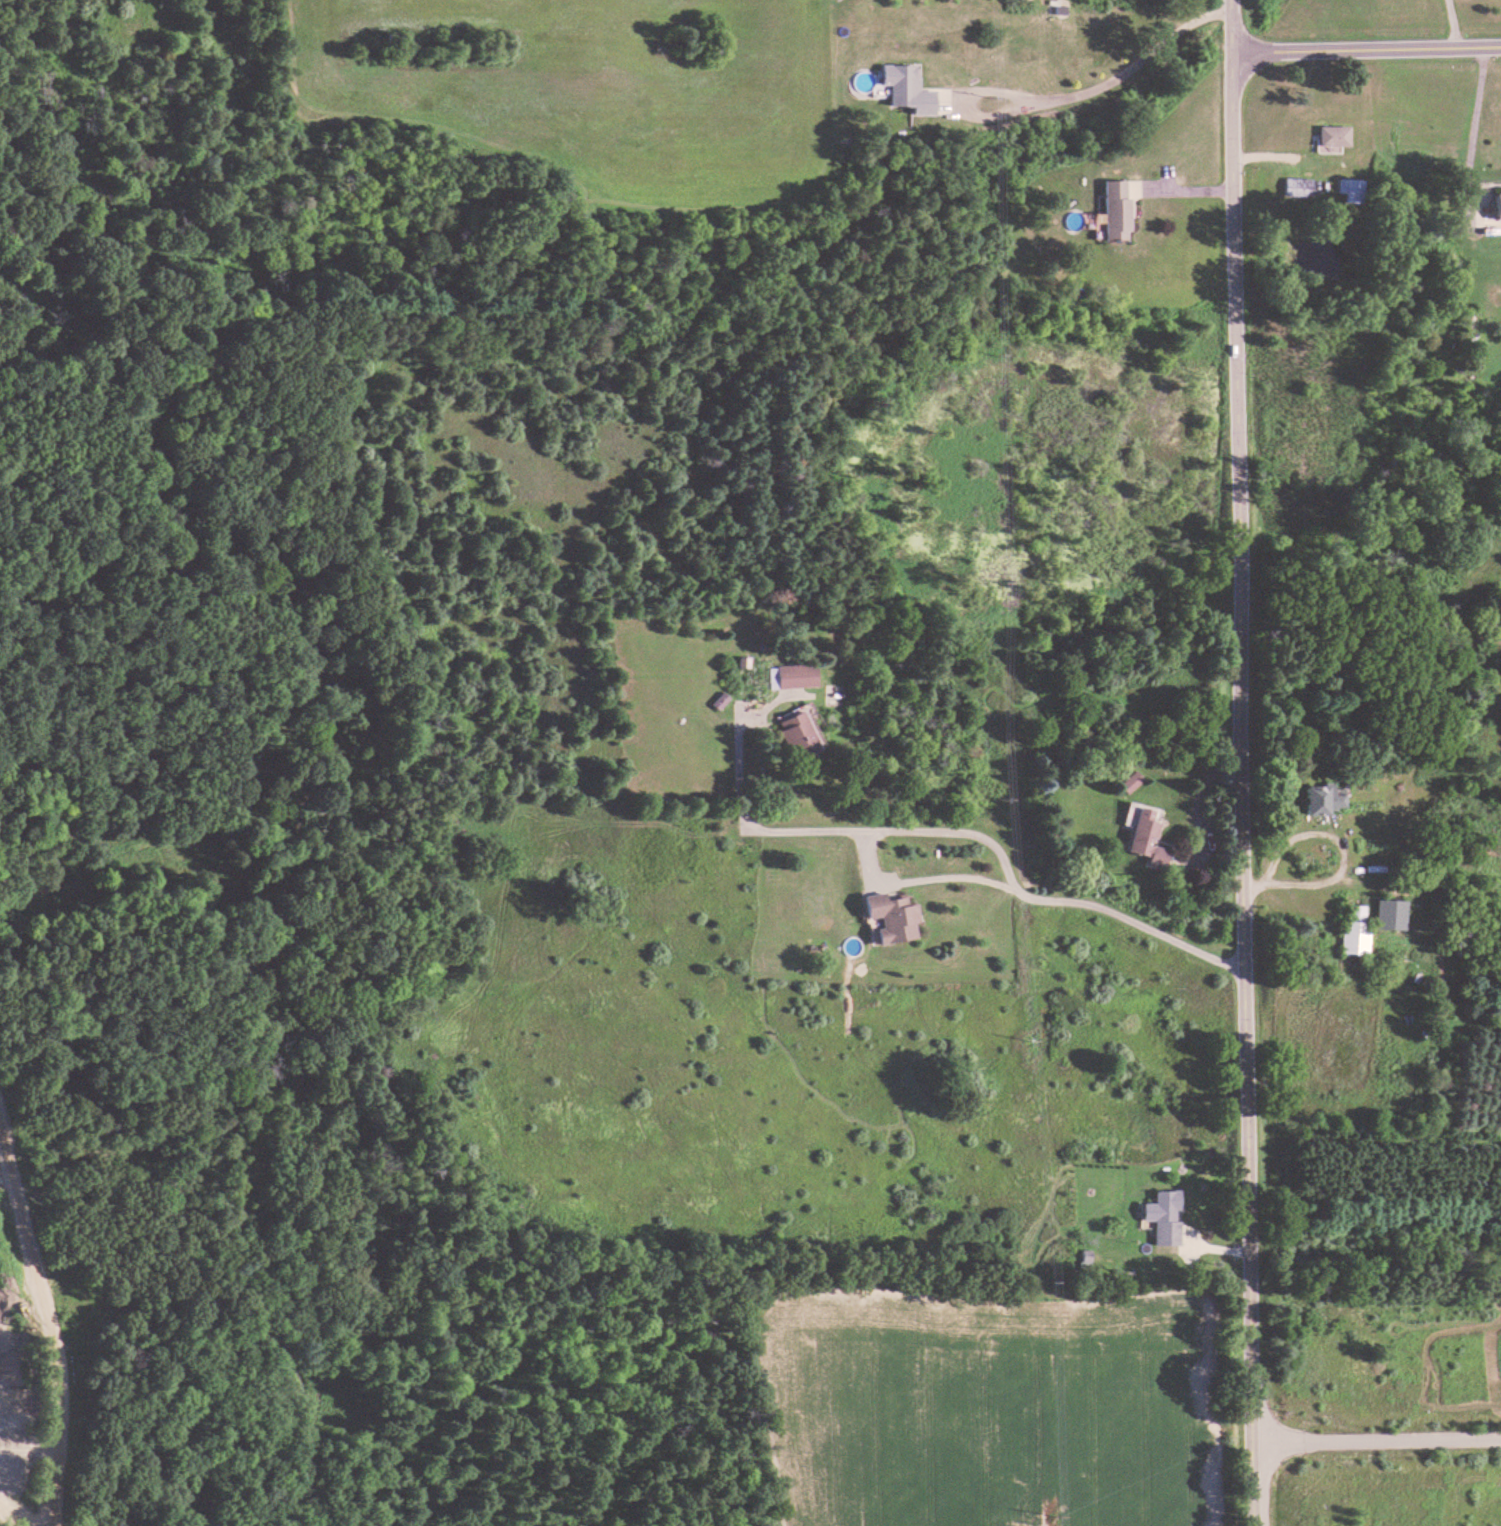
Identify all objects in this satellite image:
road: (1363, 47)
road: (1120, 74)
building: (906, 89)
road: (1471, 132)
building: (1332, 136)
building: (1296, 187)
building: (1350, 190)
building: (1497, 205)
building: (1115, 210)
building: (791, 677)
building: (798, 737)
road: (1236, 763)
building: (1130, 783)
building: (1324, 800)
road: (1195, 807)
road: (960, 831)
road: (1330, 837)
building: (1147, 838)
road: (918, 879)
building: (891, 919)
building: (1354, 931)
building: (1166, 1219)
road: (1378, 1440)

